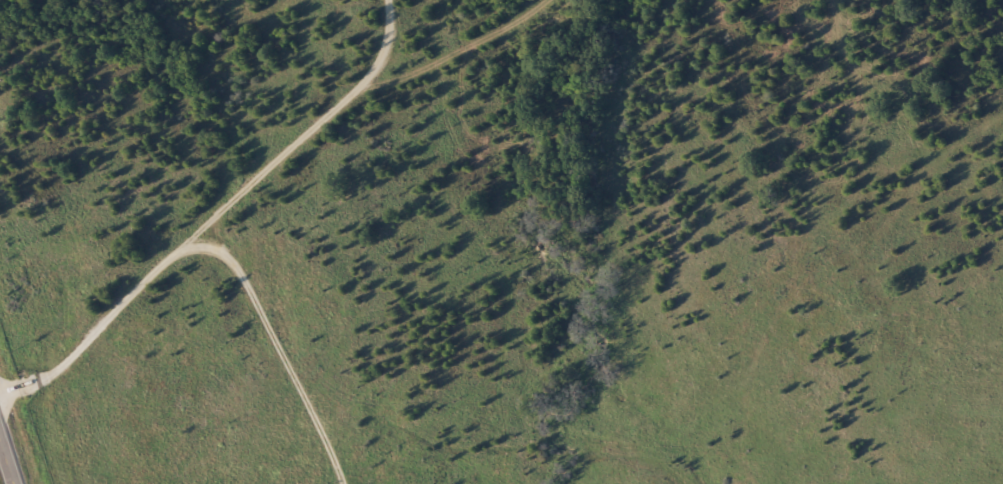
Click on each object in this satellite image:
road: (8, 458)

